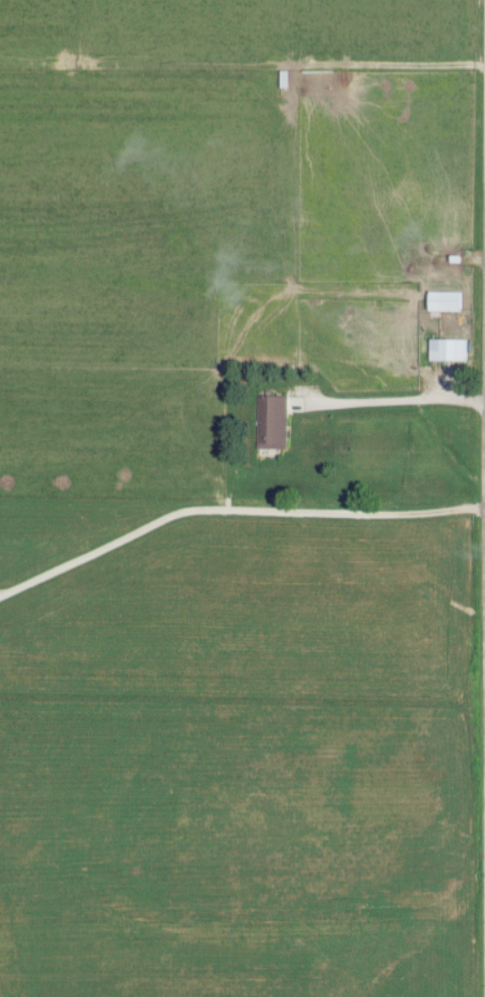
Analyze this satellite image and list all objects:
building: (448, 299)
building: (450, 348)
building: (274, 421)

